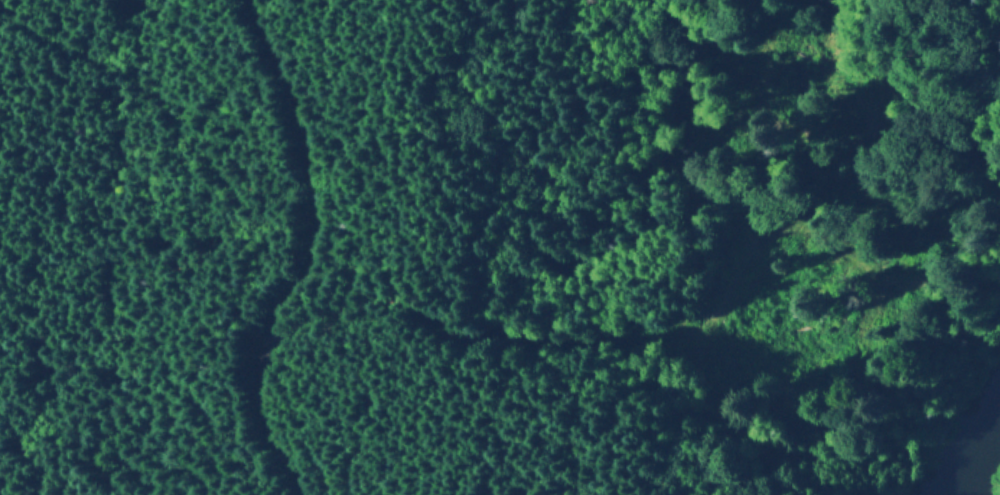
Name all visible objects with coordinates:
road: (309, 257)
road: (800, 293)
river: (977, 455)

